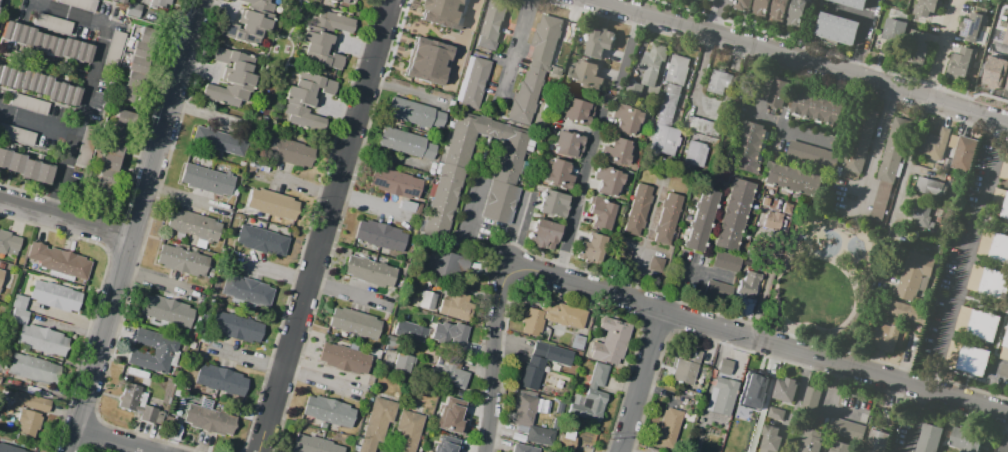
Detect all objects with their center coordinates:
building: (355, 0)
building: (340, 1)
building: (116, 2)
building: (159, 3)
road: (607, 3)
building: (852, 3)
building: (743, 5)
building: (761, 8)
building: (927, 8)
building: (134, 9)
building: (779, 10)
building: (441, 12)
road: (68, 13)
building: (796, 13)
road: (712, 18)
building: (250, 21)
building: (52, 23)
building: (491, 25)
building: (973, 28)
building: (837, 29)
building: (893, 29)
building: (1006, 36)
building: (325, 38)
road: (860, 39)
building: (46, 43)
road: (462, 43)
building: (598, 44)
road: (515, 48)
road: (627, 49)
building: (914, 49)
road: (999, 49)
road: (944, 50)
building: (425, 61)
building: (961, 62)
building: (651, 63)
road: (796, 63)
road: (759, 64)
building: (534, 67)
building: (139, 68)
building: (675, 69)
road: (773, 69)
road: (806, 77)
building: (232, 78)
road: (696, 78)
building: (588, 79)
road: (812, 80)
building: (472, 81)
building: (718, 81)
road: (783, 81)
road: (800, 82)
building: (39, 85)
building: (632, 89)
road: (823, 89)
road: (834, 93)
building: (778, 95)
road: (852, 97)
building: (306, 100)
building: (30, 104)
building: (818, 108)
road: (699, 109)
building: (578, 113)
building: (417, 115)
road: (76, 119)
building: (627, 121)
road: (771, 122)
building: (664, 123)
road: (38, 124)
parking lot: (699, 125)
building: (701, 125)
road: (739, 132)
building: (17, 135)
building: (860, 139)
building: (222, 142)
road: (736, 142)
building: (568, 145)
road: (733, 145)
building: (410, 146)
building: (749, 148)
building: (934, 148)
building: (892, 149)
building: (288, 151)
road: (875, 152)
building: (616, 153)
building: (694, 153)
road: (732, 154)
building: (809, 154)
building: (964, 154)
building: (112, 157)
road: (770, 158)
road: (783, 163)
road: (729, 164)
road: (797, 167)
road: (804, 167)
building: (24, 168)
building: (506, 168)
building: (1004, 171)
road: (812, 172)
building: (557, 174)
road: (904, 176)
building: (207, 180)
building: (793, 180)
building: (611, 182)
building: (400, 184)
building: (930, 187)
road: (724, 188)
road: (581, 195)
building: (764, 201)
building: (273, 204)
building: (554, 204)
building: (1000, 206)
building: (785, 207)
building: (638, 210)
building: (603, 214)
building: (733, 215)
building: (921, 215)
road: (64, 217)
building: (666, 218)
road: (649, 220)
building: (700, 220)
building: (770, 220)
road: (466, 223)
road: (991, 223)
road: (132, 225)
building: (194, 225)
road: (324, 226)
building: (544, 235)
building: (382, 237)
building: (263, 241)
building: (10, 243)
building: (994, 248)
building: (591, 251)
building: (754, 254)
parking lot: (623, 255)
parking lot: (960, 255)
road: (964, 255)
road: (634, 258)
building: (182, 260)
building: (60, 262)
building: (723, 262)
building: (654, 264)
parking lot: (655, 265)
building: (447, 266)
road: (839, 266)
building: (372, 273)
road: (634, 274)
park: (822, 277)
building: (914, 278)
building: (2, 279)
road: (688, 280)
building: (747, 284)
building: (989, 284)
road: (763, 288)
building: (244, 290)
building: (715, 292)
building: (57, 298)
road: (966, 298)
road: (981, 298)
building: (426, 301)
road: (741, 307)
building: (457, 308)
building: (169, 310)
building: (900, 310)
building: (19, 311)
building: (563, 315)
building: (532, 321)
building: (357, 325)
building: (978, 325)
building: (236, 327)
building: (411, 333)
road: (786, 336)
road: (1000, 337)
building: (450, 338)
road: (756, 339)
building: (886, 339)
building: (45, 342)
building: (579, 344)
building: (614, 344)
road: (824, 344)
building: (1005, 350)
building: (153, 351)
building: (554, 356)
building: (347, 360)
building: (968, 360)
road: (492, 361)
building: (405, 365)
building: (688, 369)
building: (36, 370)
building: (534, 375)
building: (452, 376)
building: (221, 380)
road: (637, 381)
building: (755, 385)
road: (833, 390)
building: (725, 391)
building: (785, 392)
building: (594, 397)
building: (810, 401)
building: (139, 404)
road: (841, 410)
building: (331, 412)
building: (31, 413)
building: (526, 413)
building: (777, 415)
building: (450, 416)
building: (746, 416)
building: (208, 419)
building: (889, 420)
road: (918, 420)
building: (380, 426)
building: (668, 430)
building: (851, 431)
building: (409, 433)
road: (119, 437)
building: (542, 438)
building: (929, 438)
building: (772, 440)
building: (812, 441)
building: (969, 441)
building: (878, 442)
building: (567, 443)
building: (444, 444)
building: (315, 446)
building: (841, 448)
building: (1003, 448)
building: (7, 449)
building: (525, 450)

